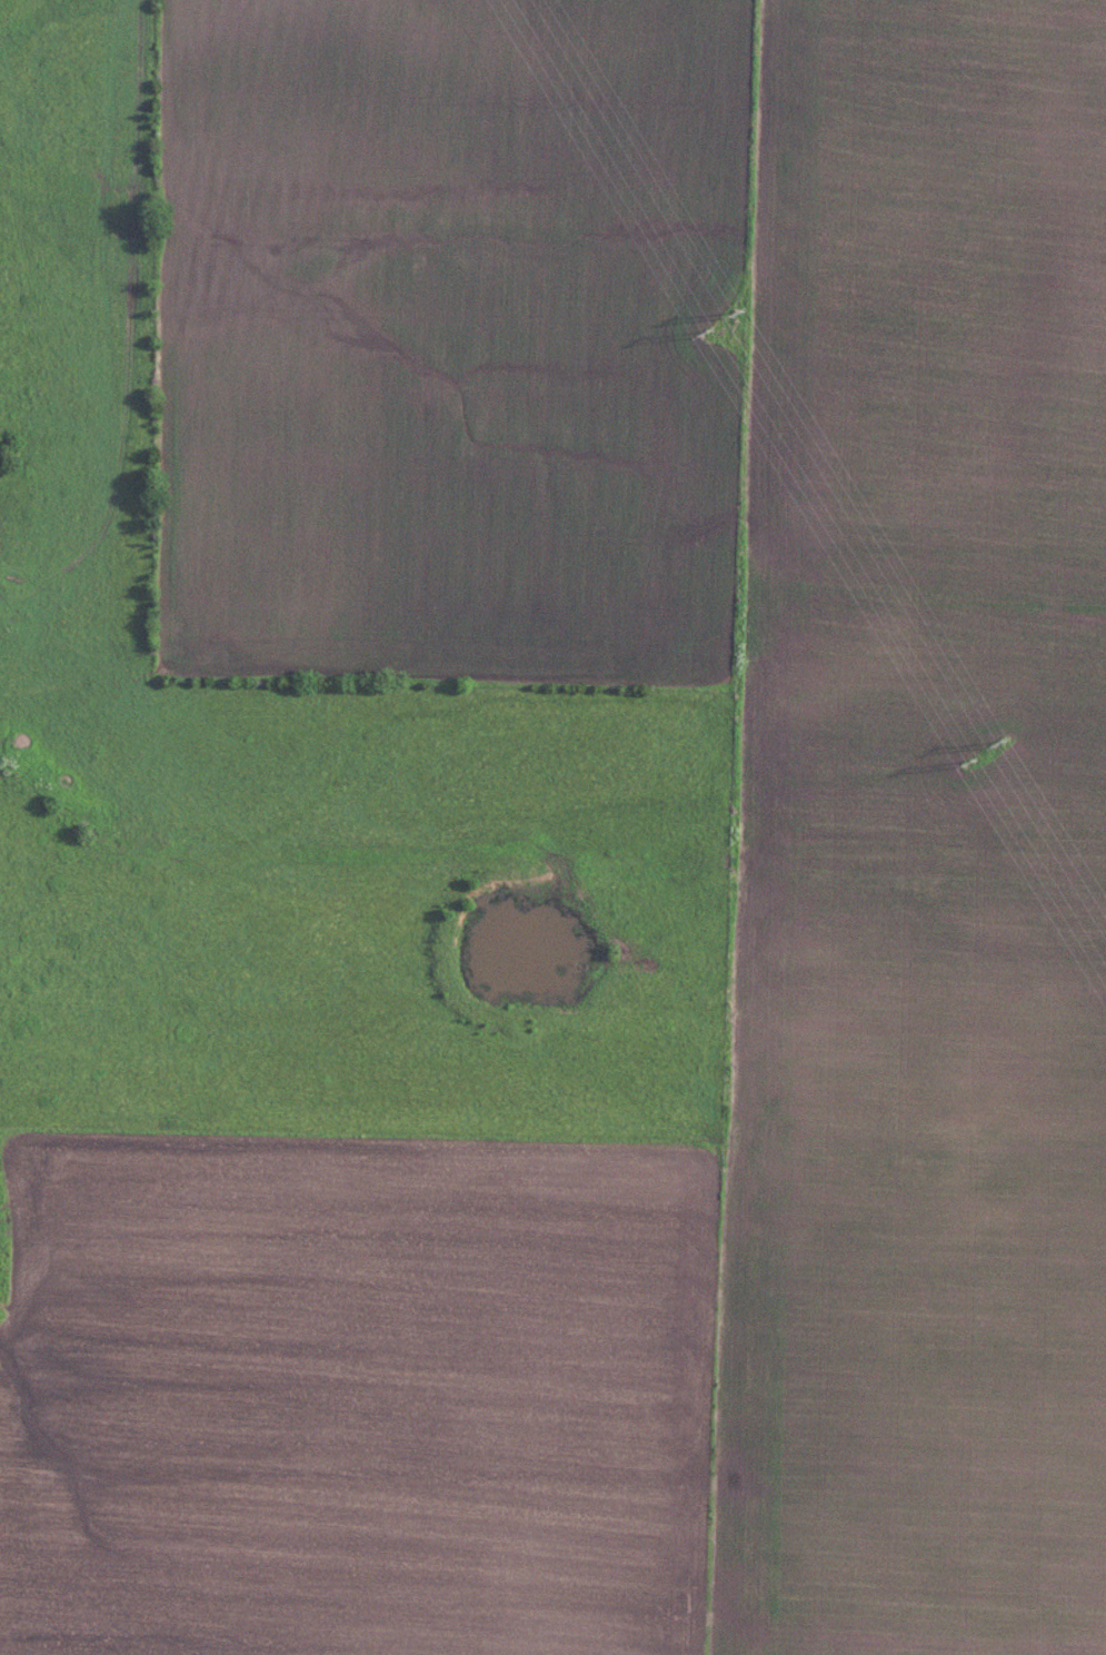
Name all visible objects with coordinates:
power tower: (739, 313)
power tower: (705, 334)
power tower: (999, 741)
power tower: (963, 761)

